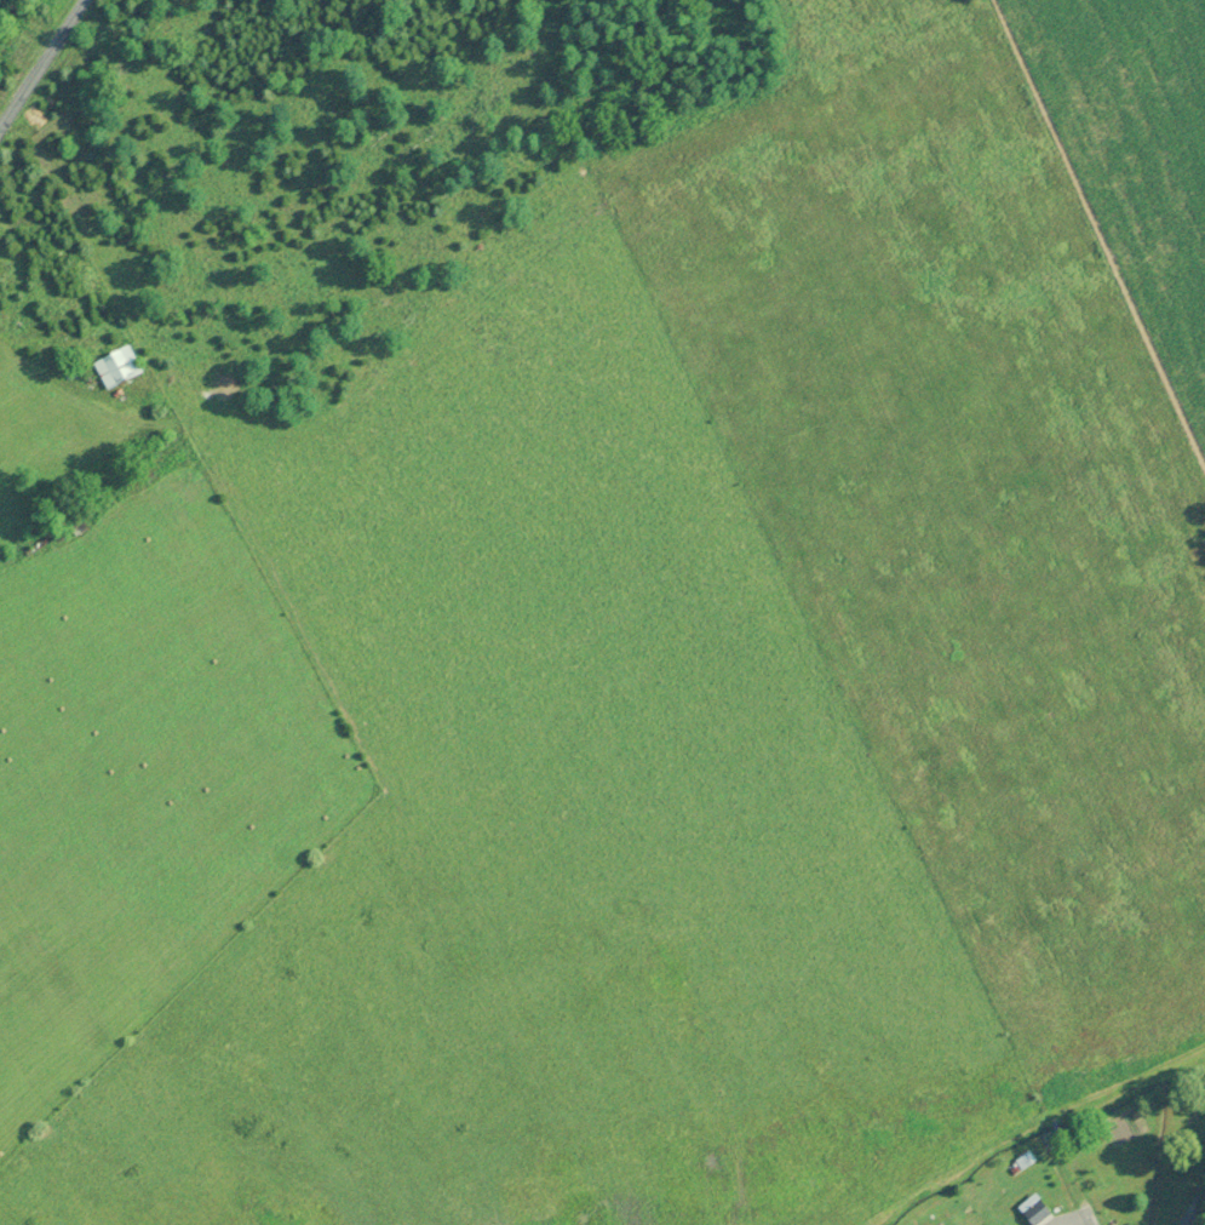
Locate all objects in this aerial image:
road: (41, 64)
building: (122, 368)
building: (1039, 1210)
road: (1197, 1215)

